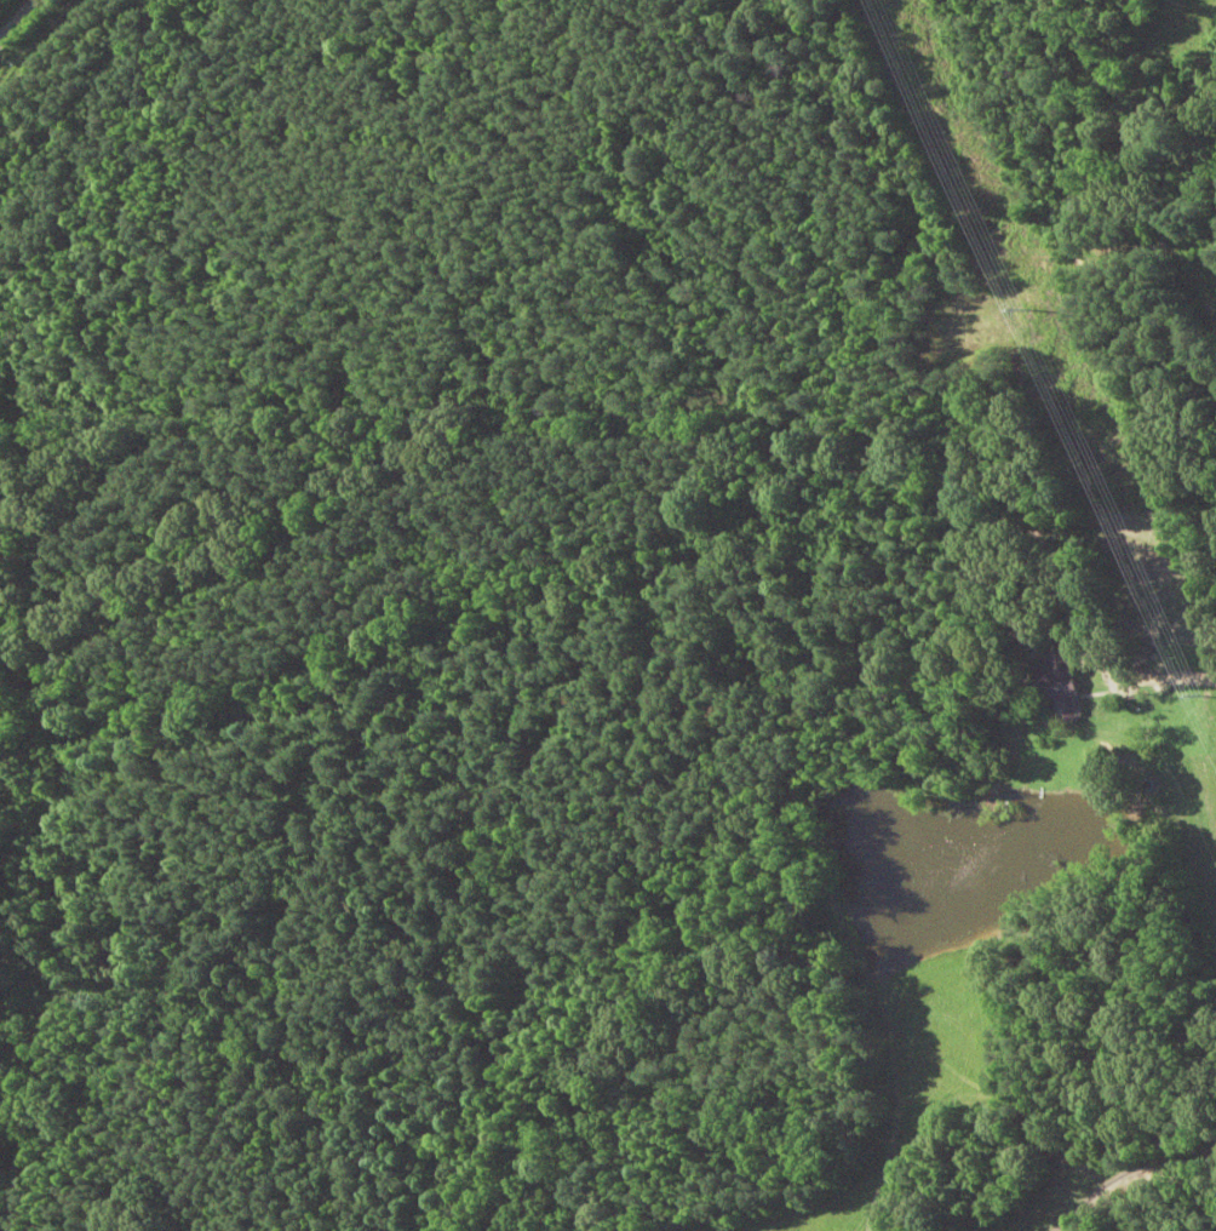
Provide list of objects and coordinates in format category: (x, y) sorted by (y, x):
building: (1056, 683)

